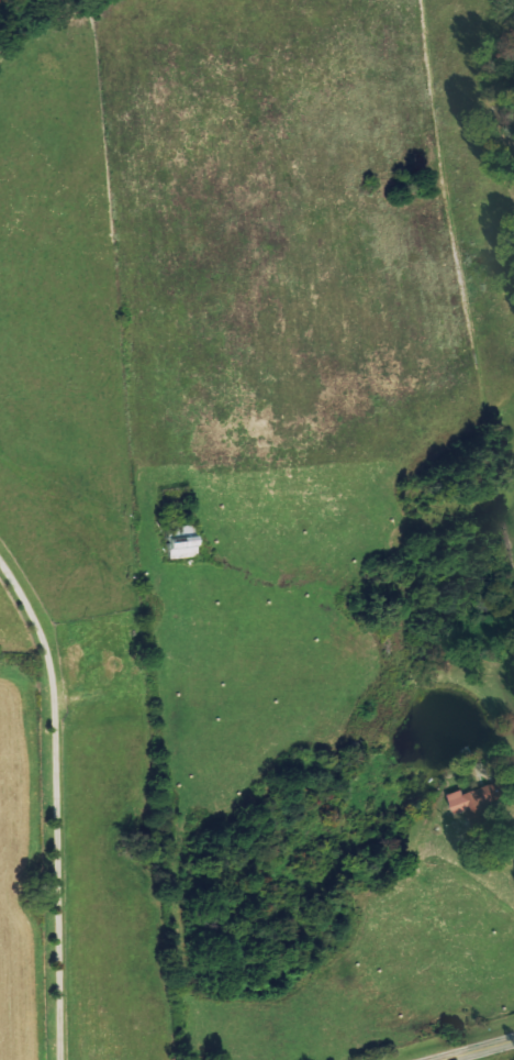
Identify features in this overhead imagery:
building: (482, 798)
road: (59, 804)
road: (482, 1051)

